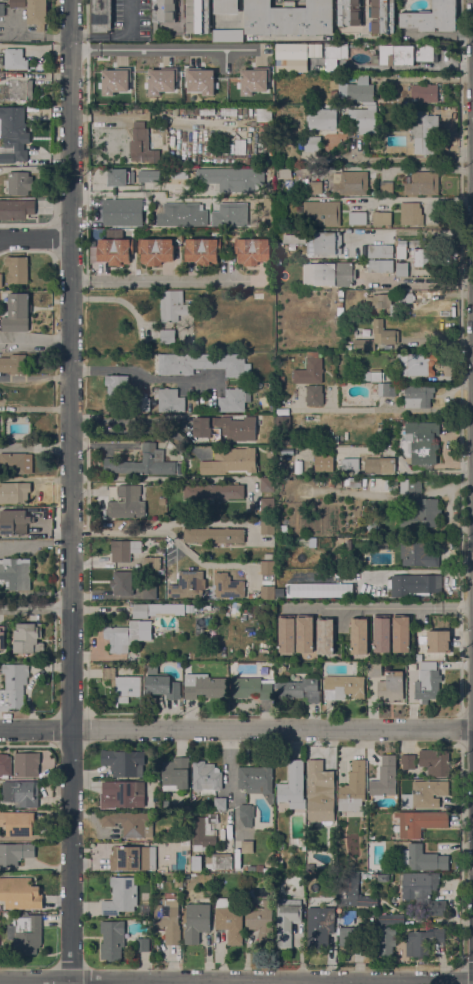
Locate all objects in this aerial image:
building: (226, 6)
building: (2, 9)
building: (33, 11)
building: (164, 12)
building: (101, 16)
building: (197, 16)
building: (366, 16)
building: (289, 17)
building: (432, 17)
building: (228, 35)
road: (117, 38)
road: (162, 49)
building: (292, 50)
building: (334, 54)
building: (405, 54)
building: (15, 59)
building: (0, 63)
building: (200, 80)
building: (113, 81)
building: (160, 81)
building: (252, 81)
building: (357, 90)
building: (16, 91)
building: (424, 92)
building: (333, 93)
building: (262, 114)
building: (321, 118)
building: (363, 119)
building: (423, 130)
building: (13, 133)
building: (309, 143)
building: (142, 147)
road: (411, 159)
building: (148, 176)
building: (119, 177)
building: (232, 178)
building: (19, 182)
building: (351, 183)
building: (422, 183)
building: (386, 186)
building: (313, 188)
building: (267, 203)
building: (17, 209)
building: (123, 211)
building: (320, 213)
building: (411, 213)
building: (230, 214)
building: (182, 215)
building: (357, 217)
building: (381, 218)
road: (414, 234)
road: (35, 239)
building: (324, 242)
building: (203, 250)
building: (252, 250)
building: (401, 250)
building: (115, 251)
building: (156, 251)
building: (380, 251)
building: (424, 257)
building: (278, 261)
building: (380, 266)
building: (17, 269)
building: (402, 269)
building: (278, 270)
building: (328, 273)
building: (1, 280)
road: (167, 280)
building: (406, 297)
building: (381, 302)
building: (172, 305)
building: (17, 313)
building: (167, 336)
building: (377, 337)
road: (35, 341)
building: (203, 363)
building: (13, 364)
building: (415, 364)
building: (309, 370)
building: (372, 375)
road: (144, 376)
building: (280, 379)
building: (342, 383)
building: (387, 390)
building: (118, 391)
building: (314, 395)
building: (418, 395)
building: (233, 399)
building: (170, 400)
building: (145, 404)
road: (384, 409)
road: (117, 419)
building: (282, 422)
building: (225, 428)
building: (420, 443)
road: (35, 446)
building: (270, 451)
building: (230, 461)
building: (142, 462)
building: (15, 463)
building: (324, 463)
building: (350, 464)
building: (380, 465)
road: (402, 467)
road: (168, 478)
building: (353, 481)
building: (331, 482)
building: (267, 484)
building: (394, 484)
building: (409, 485)
building: (213, 491)
building: (14, 492)
road: (71, 492)
building: (165, 492)
building: (125, 504)
building: (267, 505)
building: (423, 514)
building: (14, 521)
building: (267, 527)
road: (167, 534)
building: (213, 535)
road: (35, 543)
building: (349, 544)
building: (124, 550)
building: (418, 553)
building: (151, 562)
building: (267, 568)
building: (160, 572)
building: (15, 573)
building: (122, 583)
building: (188, 584)
building: (415, 584)
building: (228, 586)
building: (149, 592)
building: (267, 592)
building: (279, 592)
building: (346, 595)
building: (249, 596)
road: (36, 608)
road: (384, 608)
building: (157, 609)
building: (265, 616)
building: (382, 632)
building: (287, 633)
building: (305, 633)
building: (401, 633)
building: (124, 635)
building: (325, 635)
building: (359, 635)
building: (2, 638)
building: (27, 638)
building: (436, 641)
building: (410, 667)
building: (373, 669)
building: (429, 679)
building: (123, 683)
building: (161, 684)
building: (13, 685)
building: (204, 686)
building: (391, 686)
building: (250, 687)
building: (344, 687)
building: (296, 688)
building: (412, 697)
road: (236, 729)
building: (407, 761)
building: (124, 762)
road: (230, 762)
building: (435, 762)
building: (5, 764)
building: (25, 764)
building: (175, 773)
building: (206, 777)
building: (385, 777)
building: (257, 780)
building: (293, 785)
building: (320, 791)
building: (21, 793)
building: (122, 794)
building: (352, 794)
building: (424, 794)
building: (220, 803)
building: (157, 806)
building: (246, 814)
building: (6, 821)
building: (128, 822)
building: (419, 823)
building: (204, 832)
building: (179, 845)
building: (247, 846)
building: (303, 847)
building: (15, 853)
building: (133, 858)
building: (422, 858)
building: (219, 861)
road: (36, 868)
building: (251, 868)
building: (262, 869)
building: (365, 875)
building: (348, 877)
building: (383, 877)
building: (178, 881)
building: (423, 891)
building: (20, 893)
building: (348, 894)
building: (120, 896)
building: (367, 901)
building: (391, 918)
building: (168, 920)
building: (229, 920)
building: (287, 920)
building: (196, 922)
building: (261, 922)
building: (320, 924)
building: (26, 933)
building: (352, 936)
building: (112, 940)
building: (386, 940)
building: (423, 941)
building: (142, 944)
road: (236, 976)

